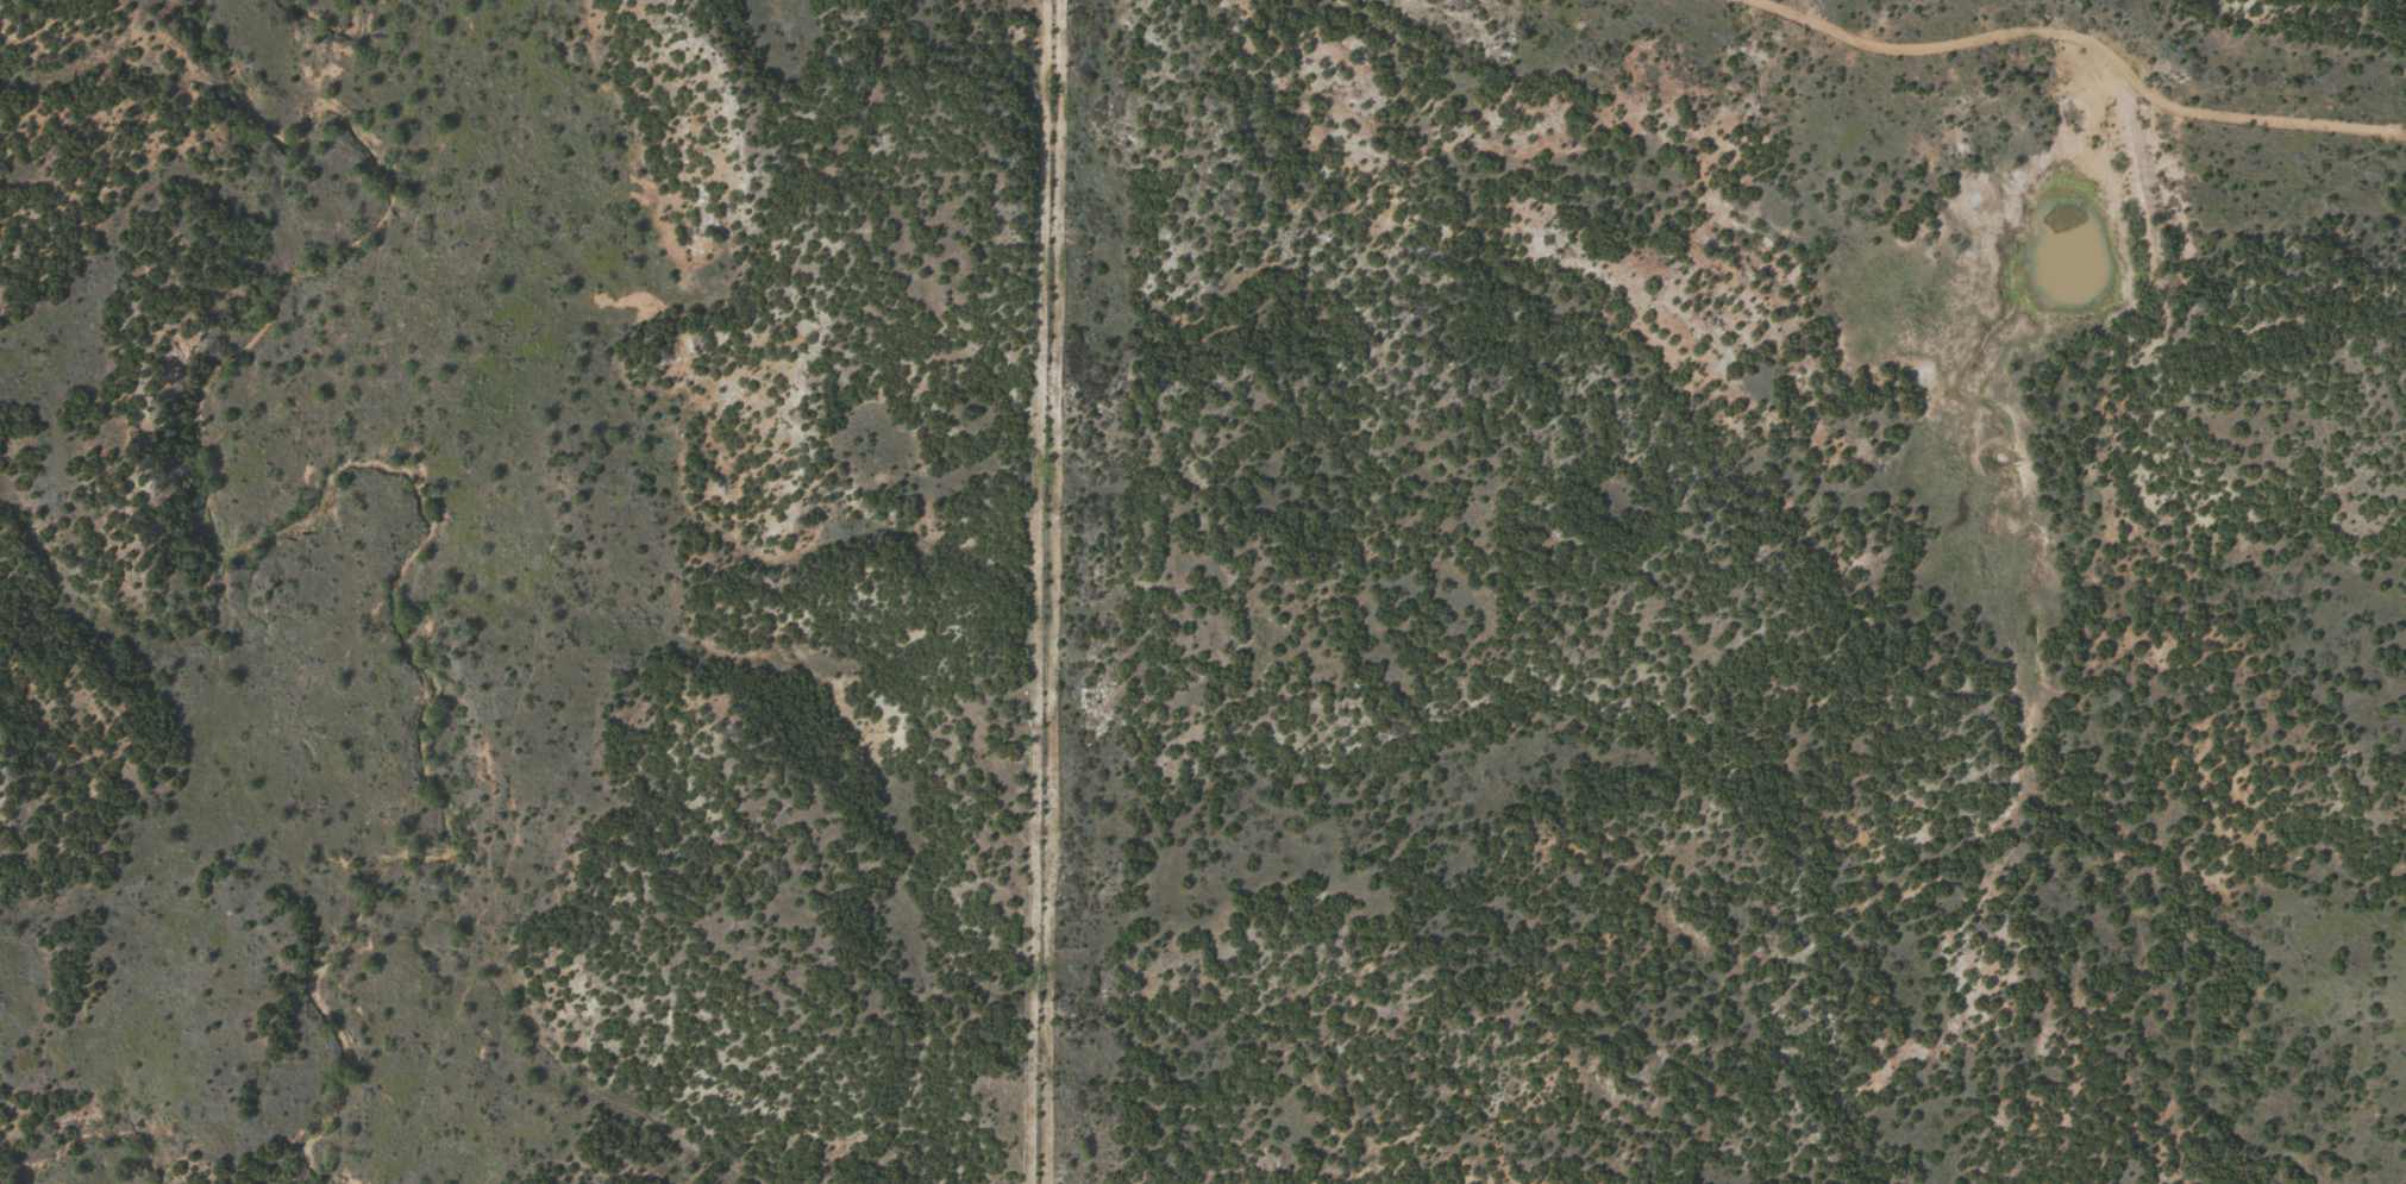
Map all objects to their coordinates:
road: (2066, 54)

